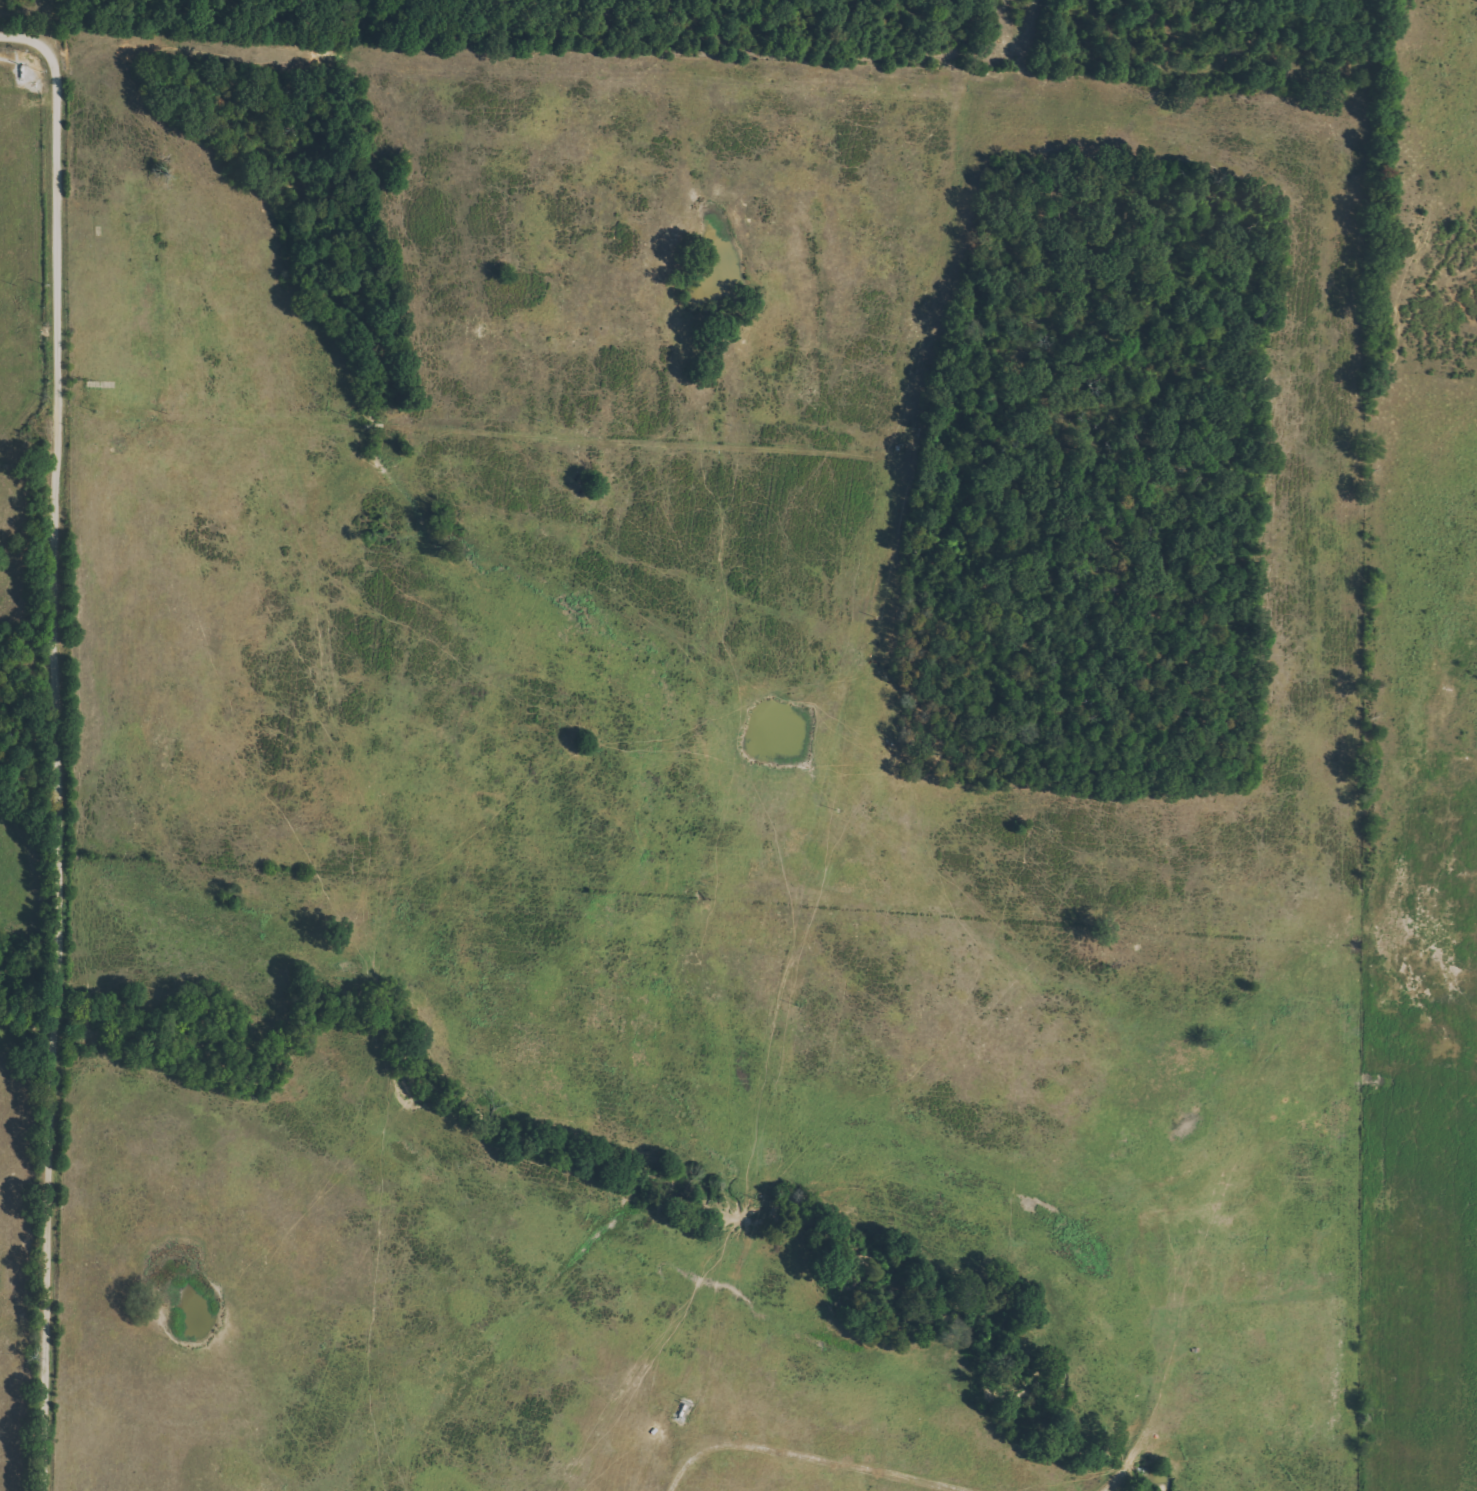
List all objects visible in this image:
road: (58, 745)

